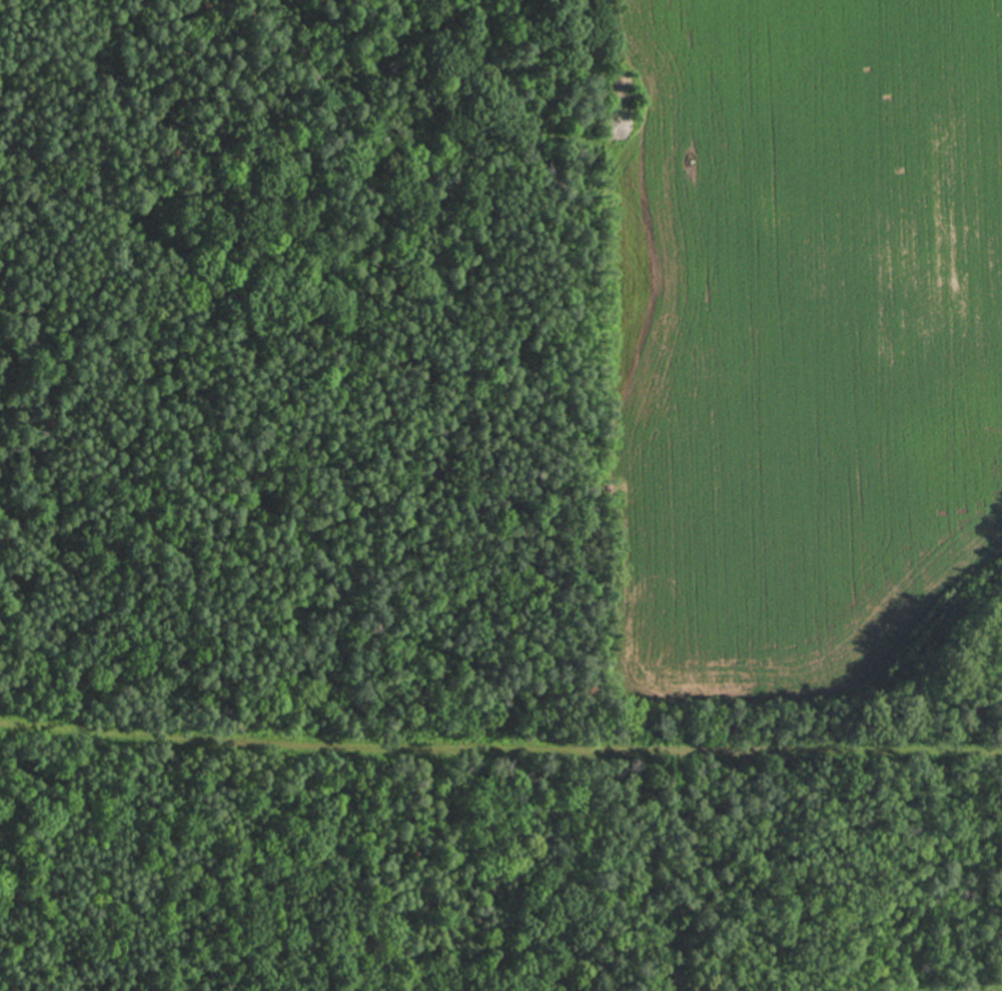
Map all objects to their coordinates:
road: (500, 747)

